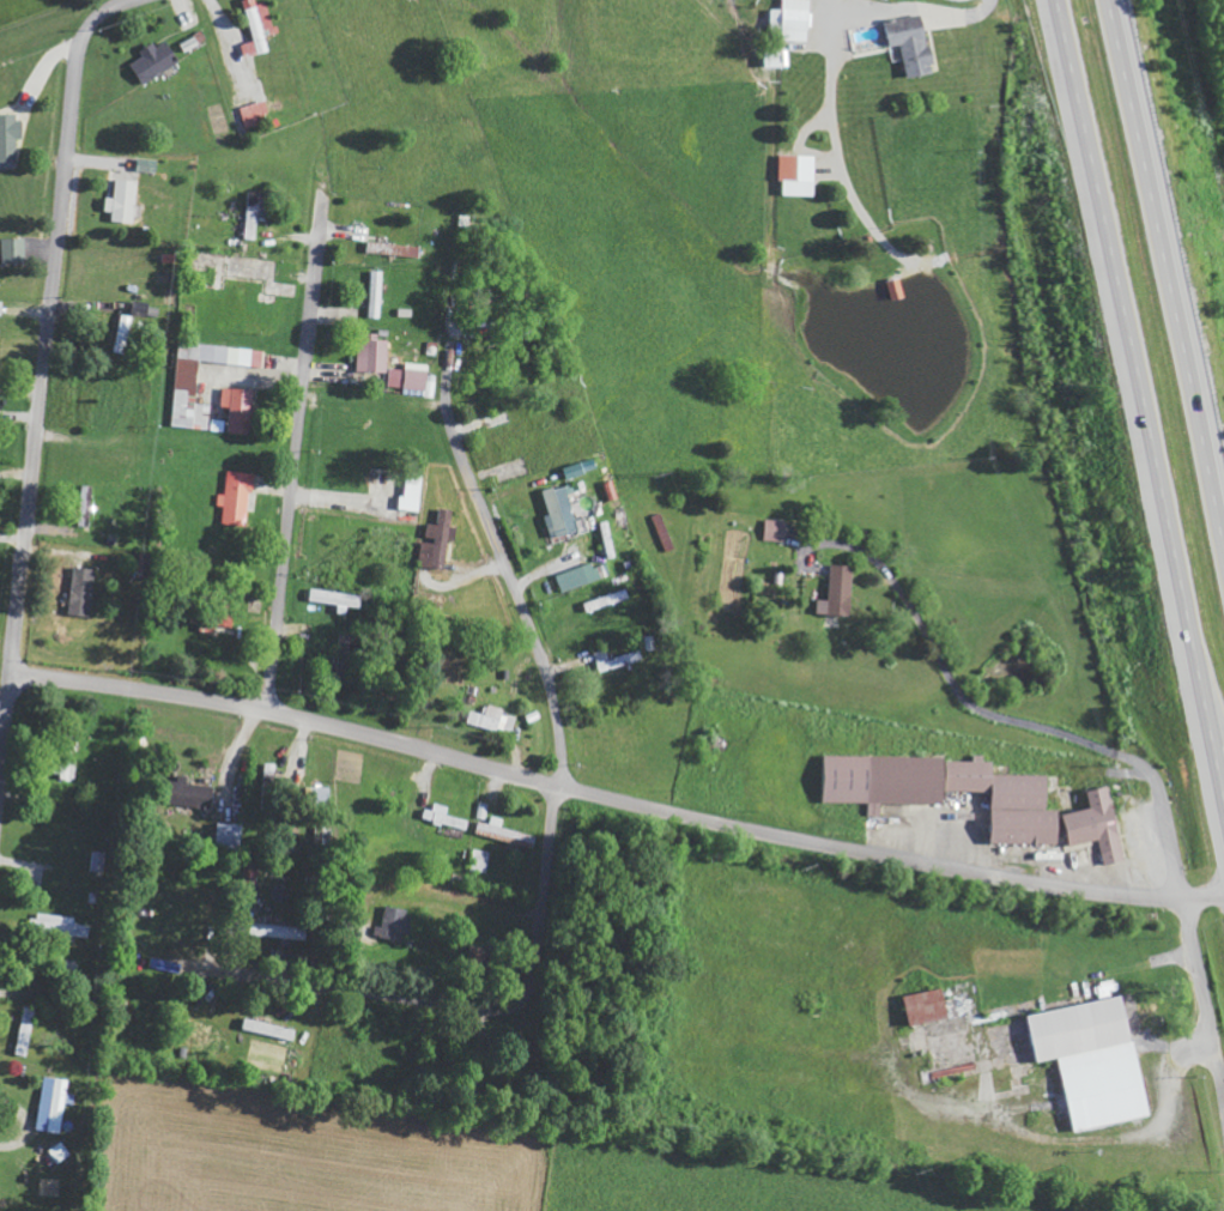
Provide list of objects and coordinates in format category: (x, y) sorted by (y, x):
building: (793, 19)
building: (260, 26)
building: (914, 43)
building: (157, 60)
building: (259, 113)
building: (10, 137)
building: (150, 165)
building: (800, 175)
building: (125, 201)
building: (256, 212)
building: (393, 249)
building: (16, 250)
road: (1163, 283)
building: (375, 293)
building: (2, 308)
building: (147, 310)
road: (49, 320)
building: (0, 332)
building: (125, 333)
building: (375, 356)
building: (413, 377)
building: (187, 385)
road: (1138, 401)
building: (241, 408)
road: (295, 456)
building: (238, 498)
building: (561, 513)
building: (775, 529)
building: (441, 541)
road: (508, 573)
building: (578, 577)
building: (86, 592)
building: (838, 592)
building: (337, 599)
building: (606, 600)
building: (617, 659)
building: (493, 719)
road: (6, 728)
building: (269, 787)
building: (947, 791)
building: (195, 794)
road: (616, 801)
building: (444, 817)
building: (1099, 825)
building: (503, 832)
building: (231, 835)
building: (479, 860)
building: (99, 861)
building: (61, 925)
building: (396, 925)
building: (286, 932)
road: (447, 1004)
building: (928, 1007)
building: (269, 1029)
building: (26, 1031)
building: (1093, 1061)
building: (57, 1106)
building: (60, 1154)

